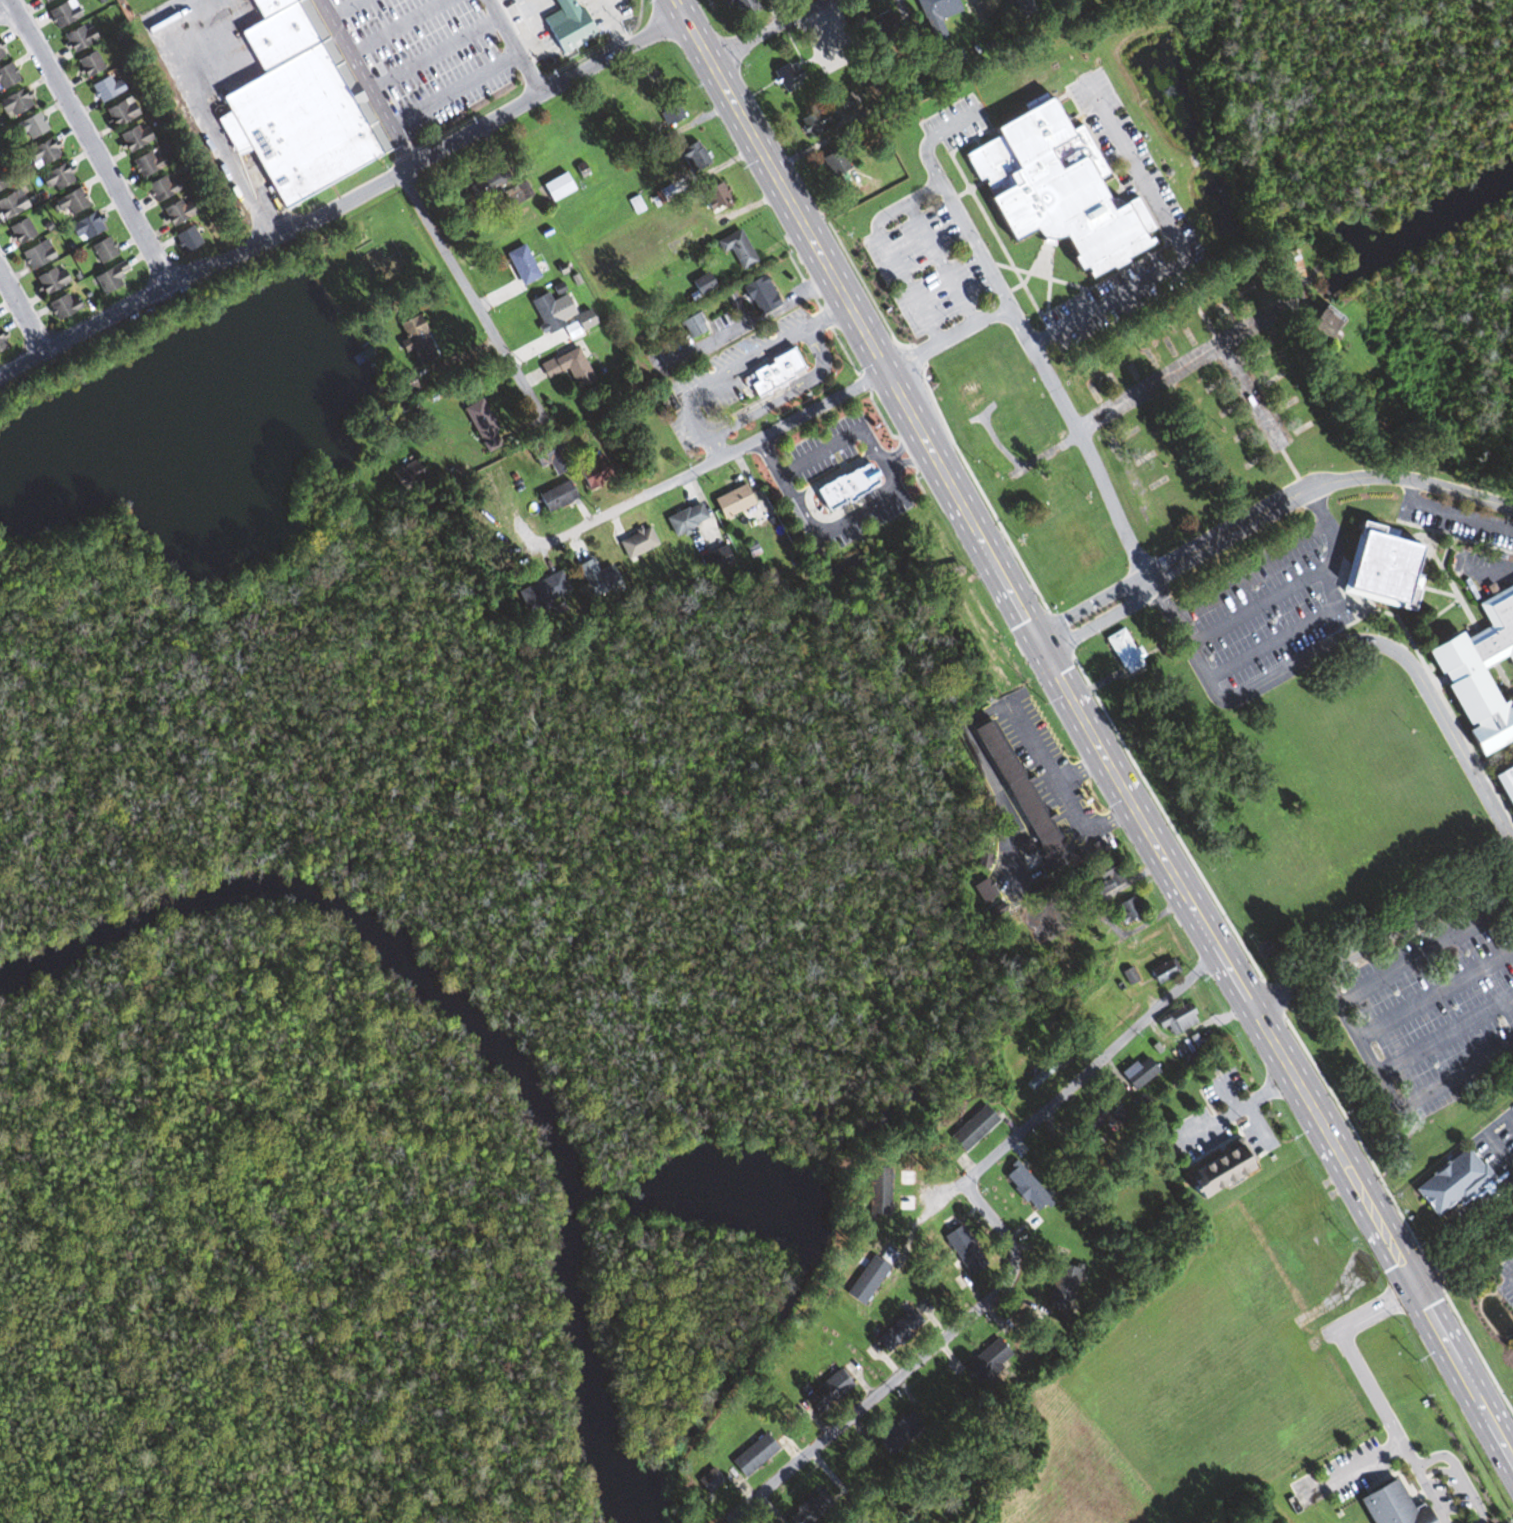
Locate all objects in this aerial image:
building: (44, 1)
building: (741, 6)
road: (7, 13)
building: (62, 13)
building: (935, 14)
building: (563, 25)
building: (879, 27)
road: (770, 30)
building: (78, 37)
road: (514, 48)
building: (0, 52)
building: (819, 56)
building: (88, 64)
building: (785, 74)
building: (7, 75)
building: (648, 78)
road: (371, 84)
building: (105, 88)
building: (845, 101)
building: (14, 102)
building: (295, 104)
building: (119, 112)
building: (670, 113)
road: (205, 115)
building: (812, 122)
building: (30, 126)
building: (133, 137)
road: (90, 142)
building: (41, 153)
building: (692, 156)
road: (430, 158)
building: (835, 161)
building: (146, 164)
building: (55, 177)
building: (1, 183)
building: (555, 187)
building: (160, 188)
building: (499, 188)
building: (1053, 189)
building: (713, 196)
building: (70, 202)
building: (11, 204)
building: (177, 212)
building: (84, 226)
building: (20, 230)
building: (186, 239)
road: (1177, 240)
building: (102, 249)
building: (735, 249)
road: (889, 250)
building: (36, 254)
road: (941, 263)
building: (520, 264)
building: (1290, 266)
building: (109, 278)
building: (49, 279)
building: (701, 283)
building: (759, 295)
road: (474, 297)
building: (62, 306)
road: (23, 309)
road: (831, 312)
building: (556, 313)
building: (1321, 323)
building: (692, 325)
road: (84, 330)
road: (1023, 330)
road: (948, 338)
building: (414, 340)
building: (1, 343)
road: (689, 353)
road: (733, 366)
building: (567, 367)
building: (772, 372)
road: (1147, 386)
building: (1015, 391)
building: (969, 392)
road: (1251, 392)
road: (786, 394)
building: (481, 426)
road: (901, 445)
road: (712, 446)
road: (821, 450)
building: (549, 456)
road: (910, 459)
road: (685, 470)
building: (593, 472)
building: (407, 476)
road: (1320, 484)
building: (844, 486)
building: (1055, 492)
building: (554, 496)
building: (730, 501)
road: (1452, 513)
building: (684, 519)
road: (837, 524)
parking lot: (1456, 524)
building: (636, 542)
building: (714, 559)
building: (1387, 568)
road: (1496, 569)
building: (596, 578)
road: (1295, 584)
road: (1201, 589)
building: (544, 592)
road: (1089, 603)
parking lot: (1265, 606)
road: (1102, 620)
road: (1289, 633)
traffic signals: (1042, 644)
building: (1127, 650)
road: (1410, 666)
building: (1483, 673)
road: (1097, 685)
road: (1091, 729)
building: (1013, 781)
building: (1507, 781)
building: (1102, 876)
building: (983, 890)
building: (1127, 910)
road: (1386, 934)
building: (1102, 946)
road: (1427, 954)
building: (1162, 972)
road: (1436, 995)
parking lot: (1433, 1007)
building: (1176, 1020)
road: (1445, 1035)
building: (1044, 1072)
building: (1139, 1074)
road: (1073, 1082)
road: (1389, 1097)
building: (1094, 1116)
building: (972, 1128)
building: (1217, 1169)
building: (1450, 1183)
building: (1024, 1188)
building: (877, 1189)
road: (1456, 1215)
building: (963, 1250)
traffic signals: (1400, 1261)
building: (866, 1281)
building: (1063, 1288)
building: (899, 1332)
building: (985, 1361)
road: (910, 1365)
building: (827, 1392)
building: (1403, 1432)
building: (897, 1433)
building: (752, 1456)
building: (1359, 1477)
building: (708, 1481)
building: (813, 1506)

